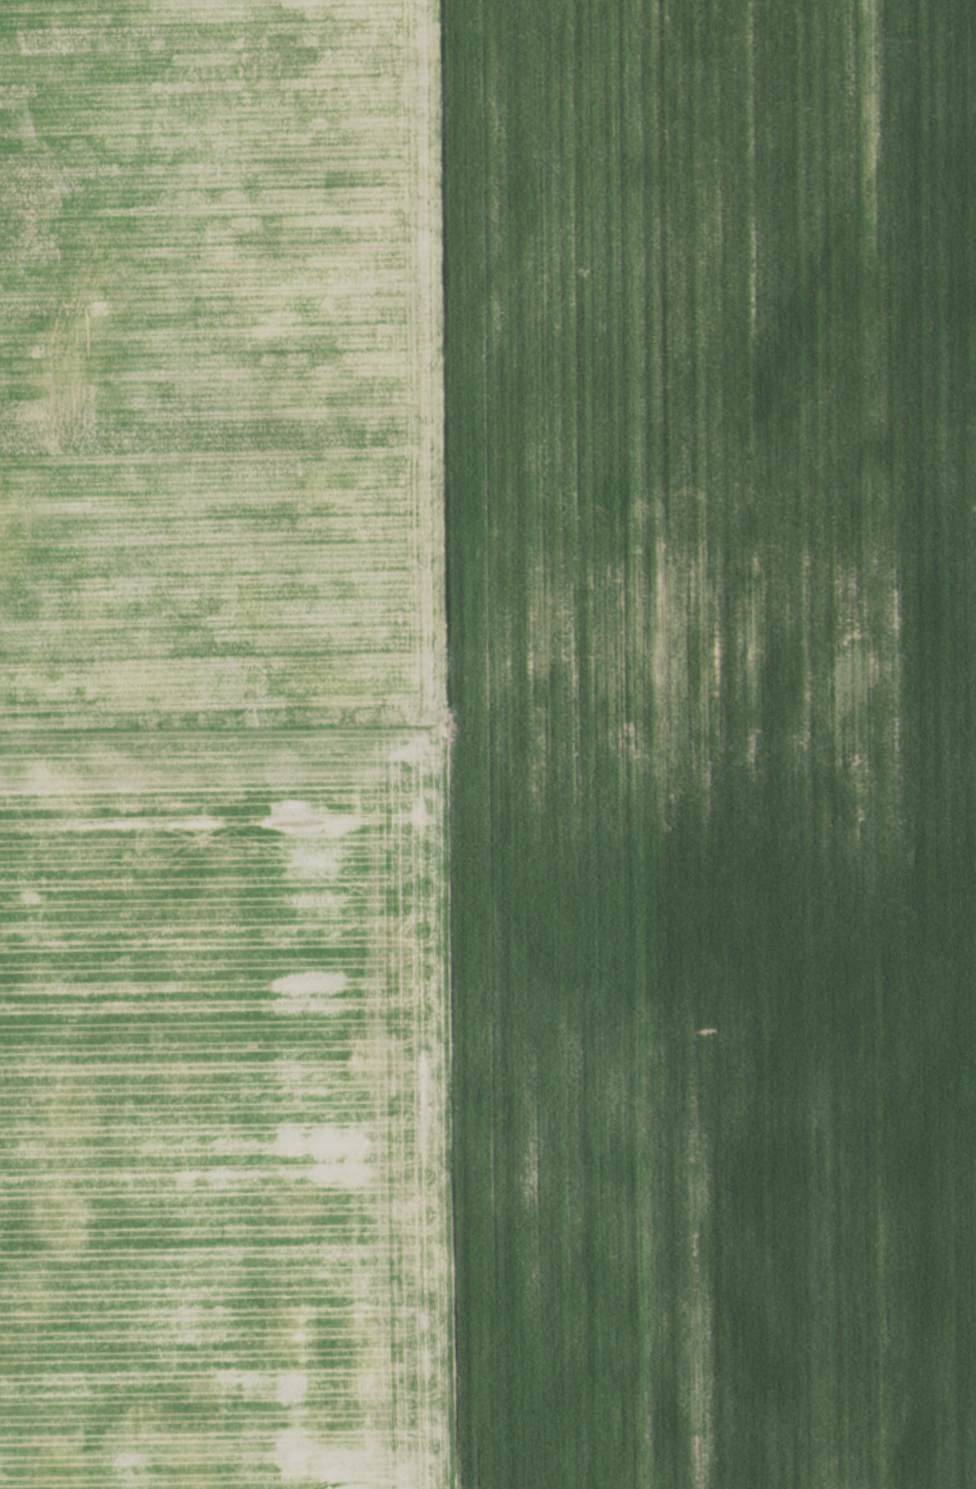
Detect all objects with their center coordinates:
crop: (709, 740)
crop: (221, 749)

